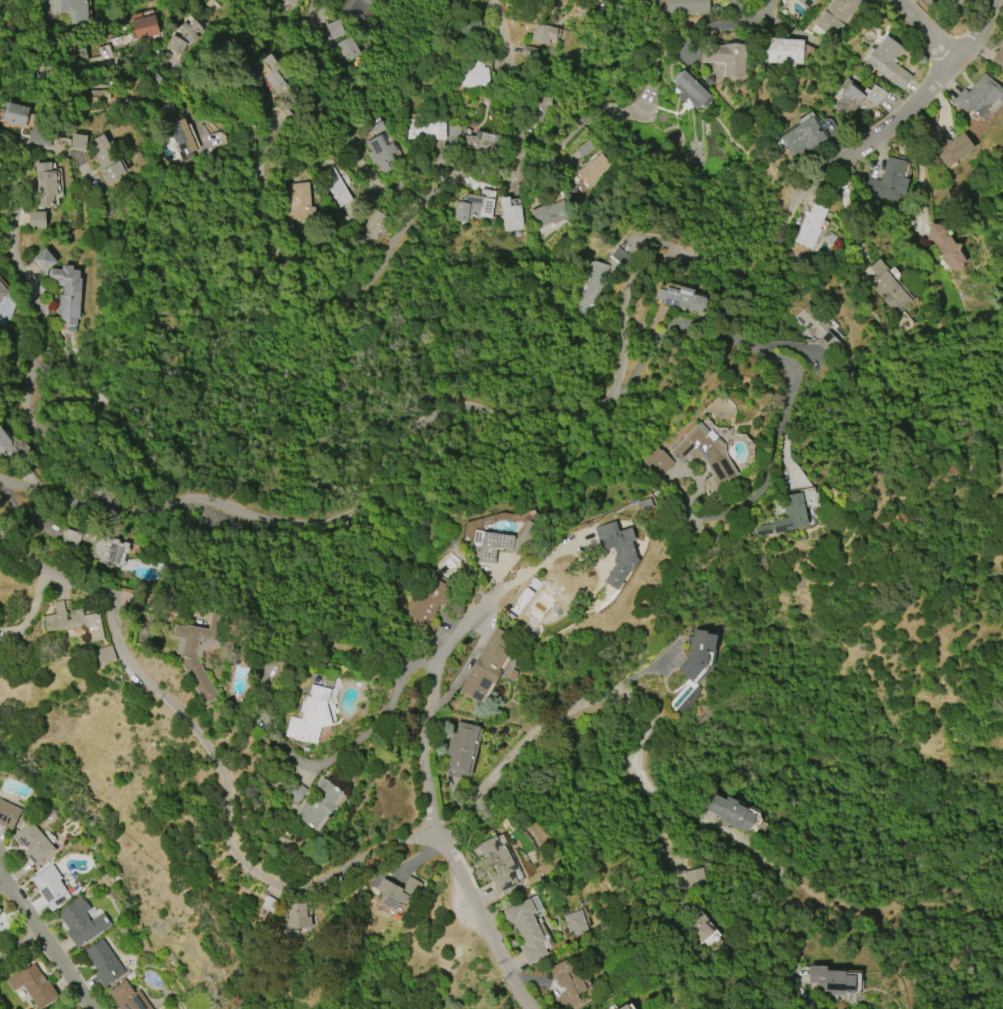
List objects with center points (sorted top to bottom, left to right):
building: (293, 2)
building: (806, 3)
building: (952, 4)
building: (282, 6)
building: (687, 7)
building: (359, 9)
building: (73, 10)
building: (836, 17)
building: (143, 26)
road: (930, 28)
building: (543, 34)
building: (183, 36)
road: (47, 38)
building: (783, 51)
building: (529, 52)
building: (998, 57)
building: (726, 58)
building: (888, 63)
building: (266, 73)
building: (473, 76)
road: (515, 84)
building: (691, 91)
building: (856, 96)
building: (978, 96)
building: (538, 108)
building: (14, 115)
building: (376, 128)
building: (426, 129)
building: (178, 131)
building: (40, 133)
building: (453, 134)
building: (803, 137)
building: (78, 142)
building: (482, 145)
building: (946, 146)
building: (584, 149)
building: (379, 153)
road: (557, 157)
building: (106, 159)
road: (364, 167)
building: (594, 170)
road: (252, 172)
building: (889, 181)
building: (46, 185)
building: (335, 186)
building: (298, 203)
building: (471, 208)
building: (550, 213)
building: (510, 215)
building: (36, 219)
building: (810, 226)
building: (373, 228)
building: (945, 246)
building: (618, 256)
building: (44, 260)
building: (888, 289)
building: (590, 291)
building: (3, 292)
building: (67, 294)
building: (684, 299)
building: (816, 327)
road: (713, 329)
road: (37, 355)
road: (586, 414)
building: (4, 442)
building: (705, 453)
building: (657, 462)
building: (644, 505)
building: (794, 507)
road: (736, 508)
building: (70, 538)
building: (501, 543)
building: (110, 551)
building: (617, 551)
building: (427, 604)
building: (72, 622)
building: (697, 653)
building: (198, 654)
building: (105, 656)
building: (486, 667)
road: (646, 693)
building: (685, 697)
road: (437, 703)
building: (312, 709)
road: (379, 716)
building: (461, 747)
road: (217, 754)
building: (295, 793)
building: (319, 804)
building: (730, 812)
building: (8, 814)
road: (1, 829)
building: (34, 843)
building: (499, 863)
road: (17, 873)
building: (695, 877)
building: (50, 887)
building: (397, 892)
building: (0, 908)
building: (296, 917)
building: (81, 922)
building: (575, 923)
road: (487, 926)
building: (700, 927)
building: (526, 931)
road: (46, 943)
road: (19, 945)
building: (103, 962)
building: (830, 981)
building: (567, 983)
building: (32, 985)
building: (127, 997)
building: (623, 1007)

